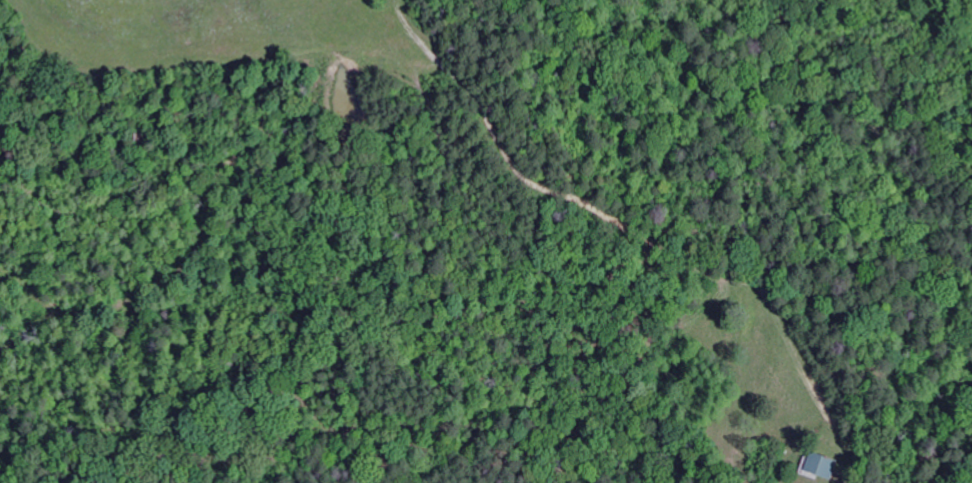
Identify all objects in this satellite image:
building: (819, 465)

